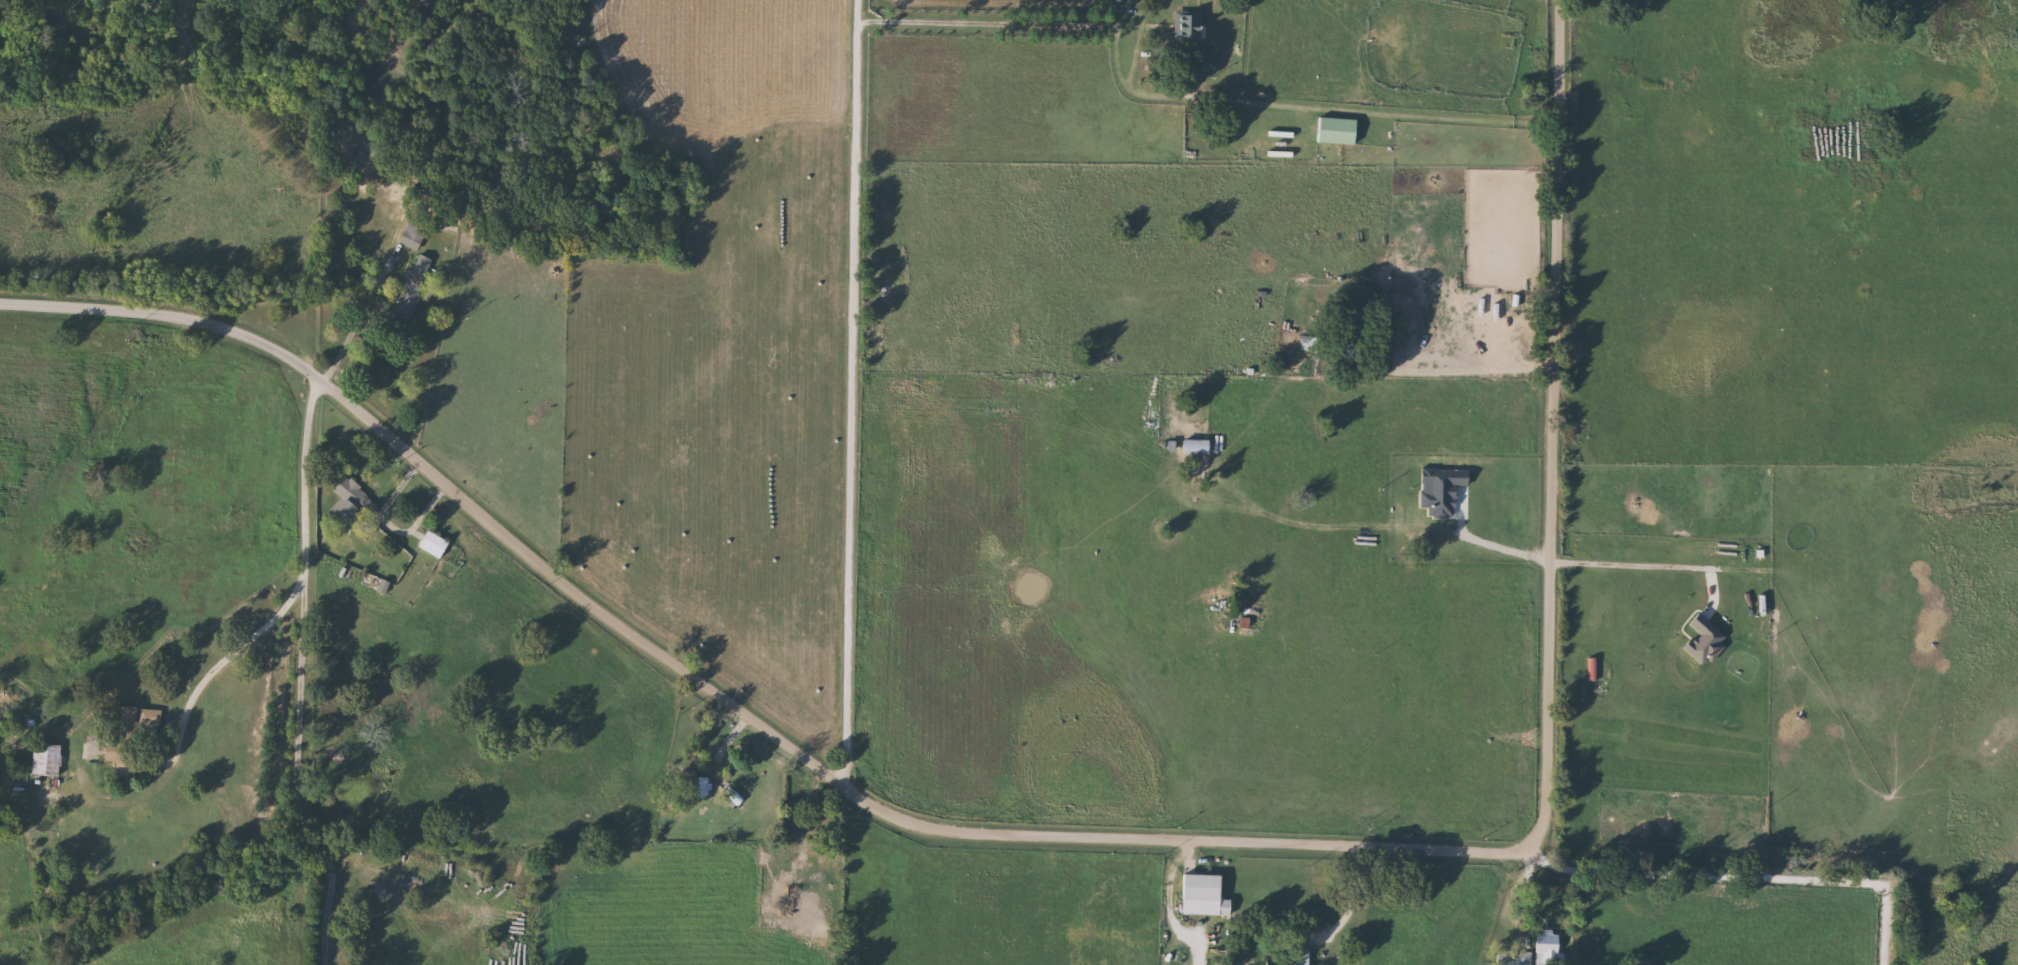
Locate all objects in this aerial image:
road: (985, 23)
building: (1189, 28)
building: (1339, 131)
building: (416, 233)
building: (415, 287)
road: (1474, 369)
road: (855, 393)
building: (1199, 446)
building: (350, 502)
road: (392, 526)
road: (1494, 534)
building: (436, 544)
road: (1655, 556)
road: (306, 589)
building: (132, 735)
building: (47, 758)
road: (297, 784)
building: (700, 786)
road: (1111, 841)
building: (1207, 895)
building: (795, 897)
road: (1754, 899)
road: (1359, 900)
road: (1466, 911)
building: (1549, 949)
building: (1304, 955)

